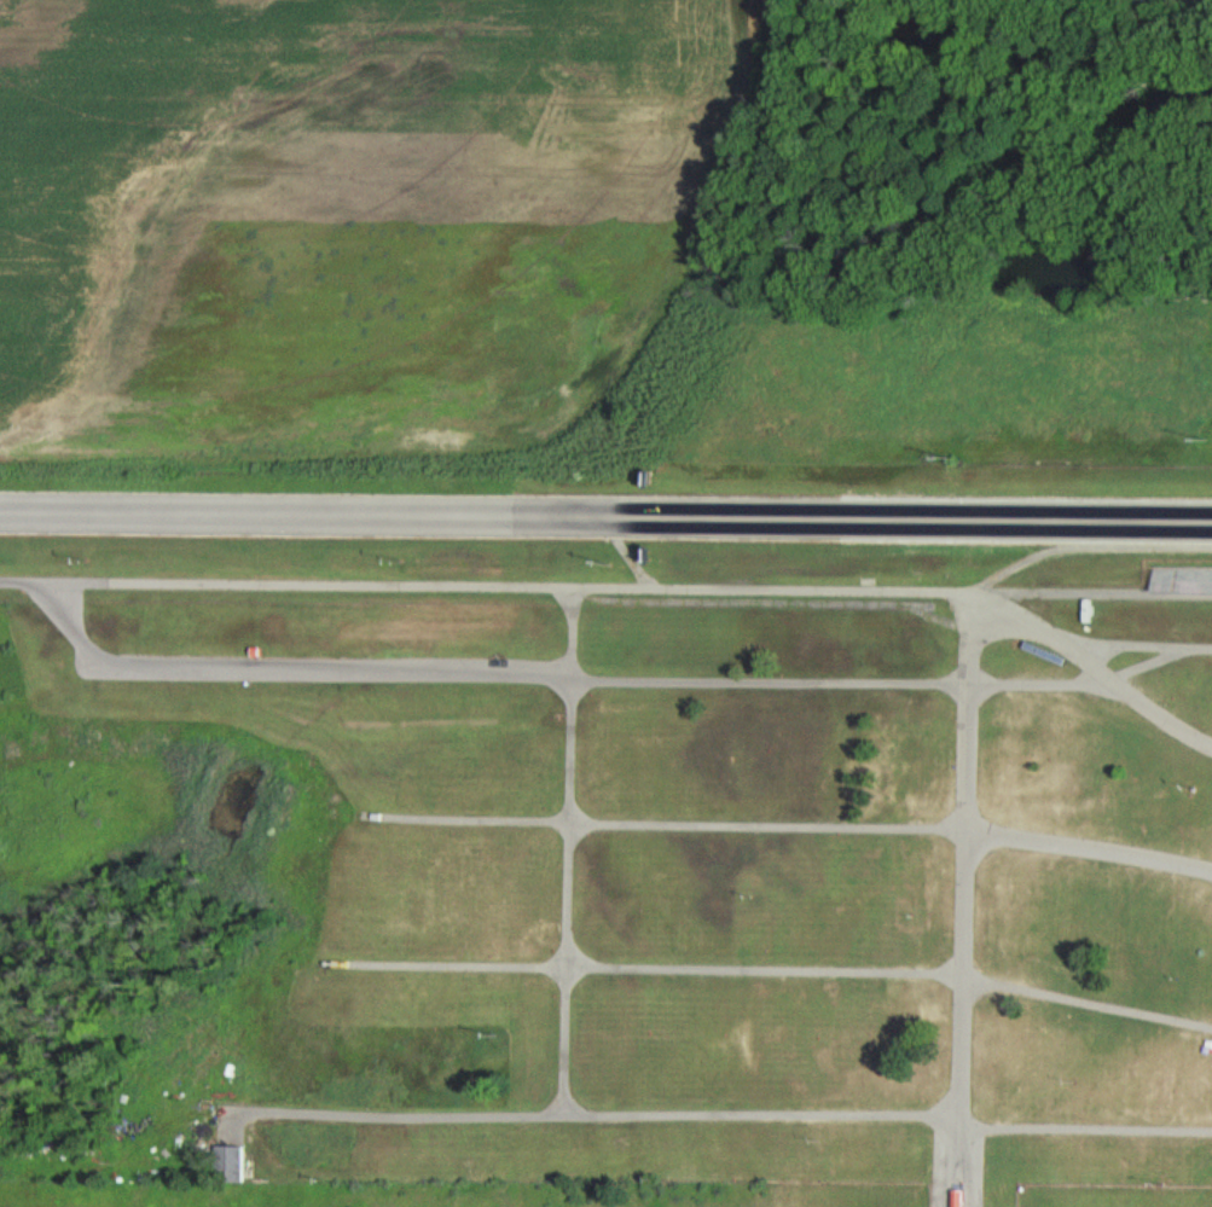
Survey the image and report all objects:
raceway: (605, 516)
stadium: (1181, 517)
road: (1084, 547)
road: (500, 590)
road: (1133, 646)
road: (1092, 667)
road: (251, 669)
road: (833, 683)
road: (662, 824)
road: (1088, 848)
road: (568, 854)
road: (961, 900)
road: (773, 971)
road: (590, 1118)
road: (1081, 1130)
building: (231, 1165)

